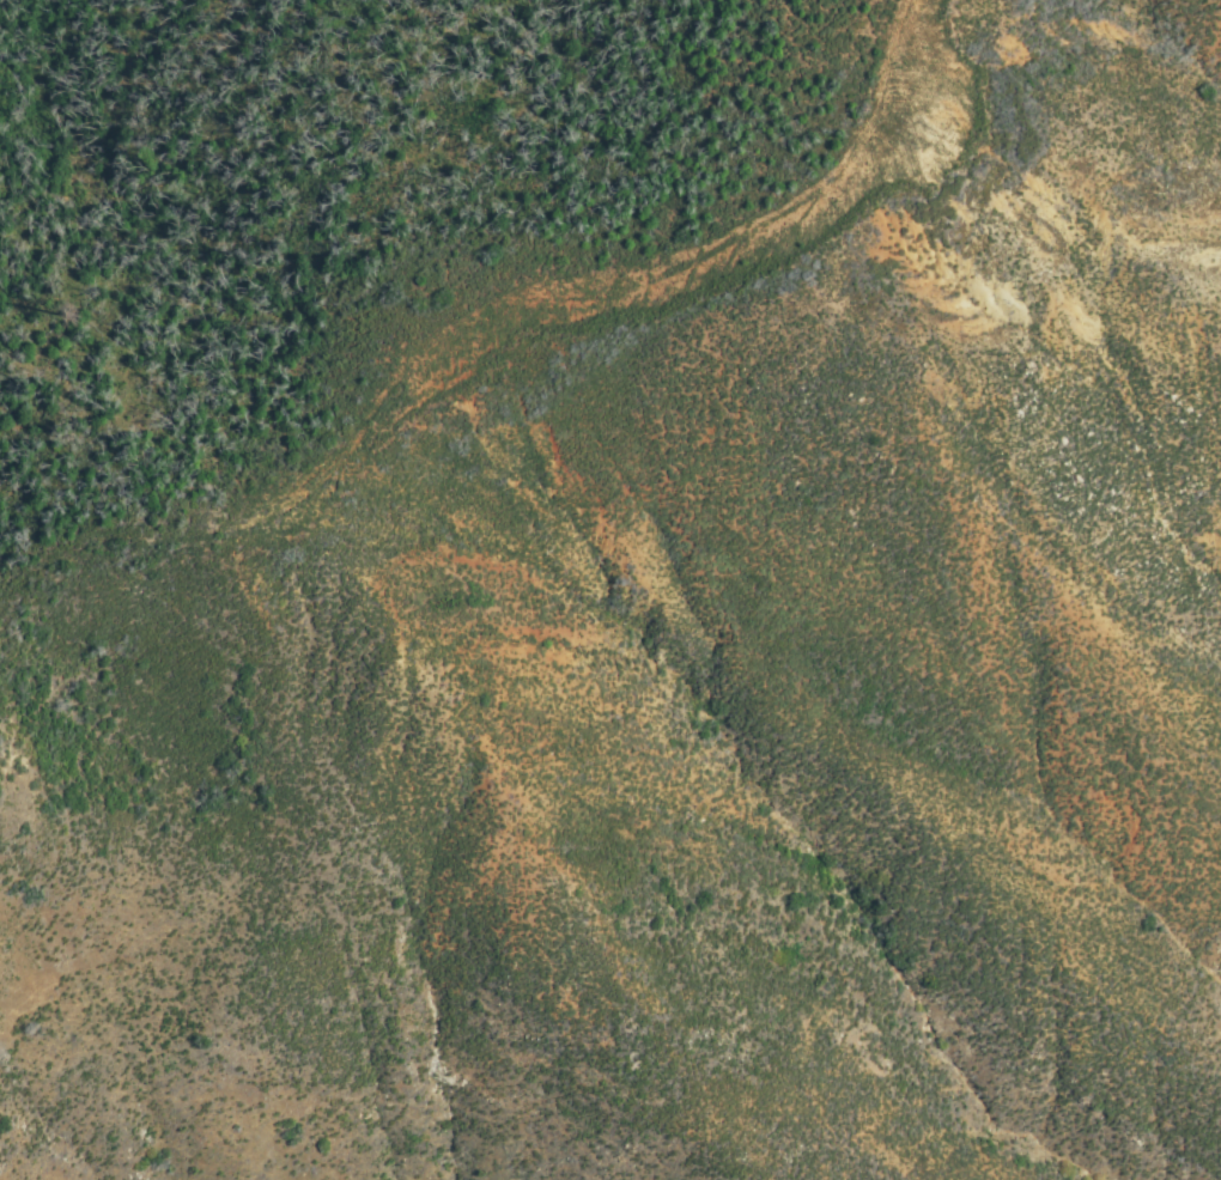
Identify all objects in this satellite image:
road: (498, 353)

